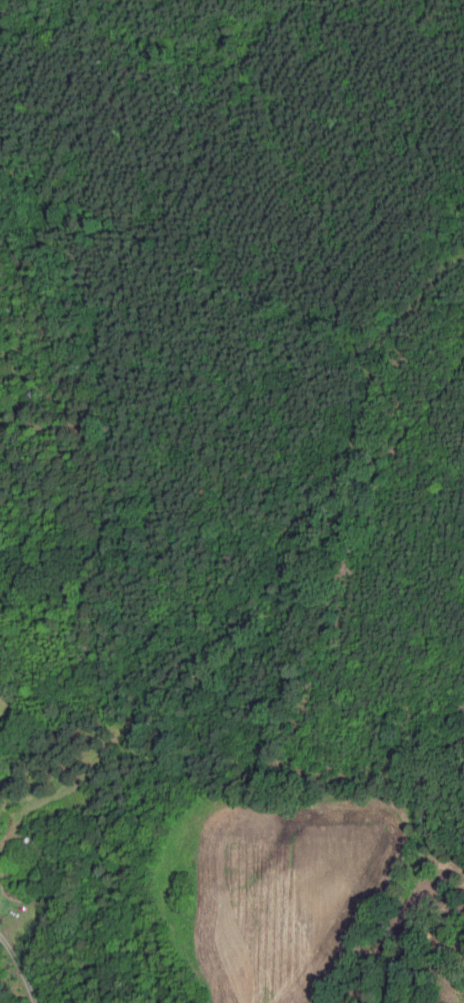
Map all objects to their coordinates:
road: (19, 969)

